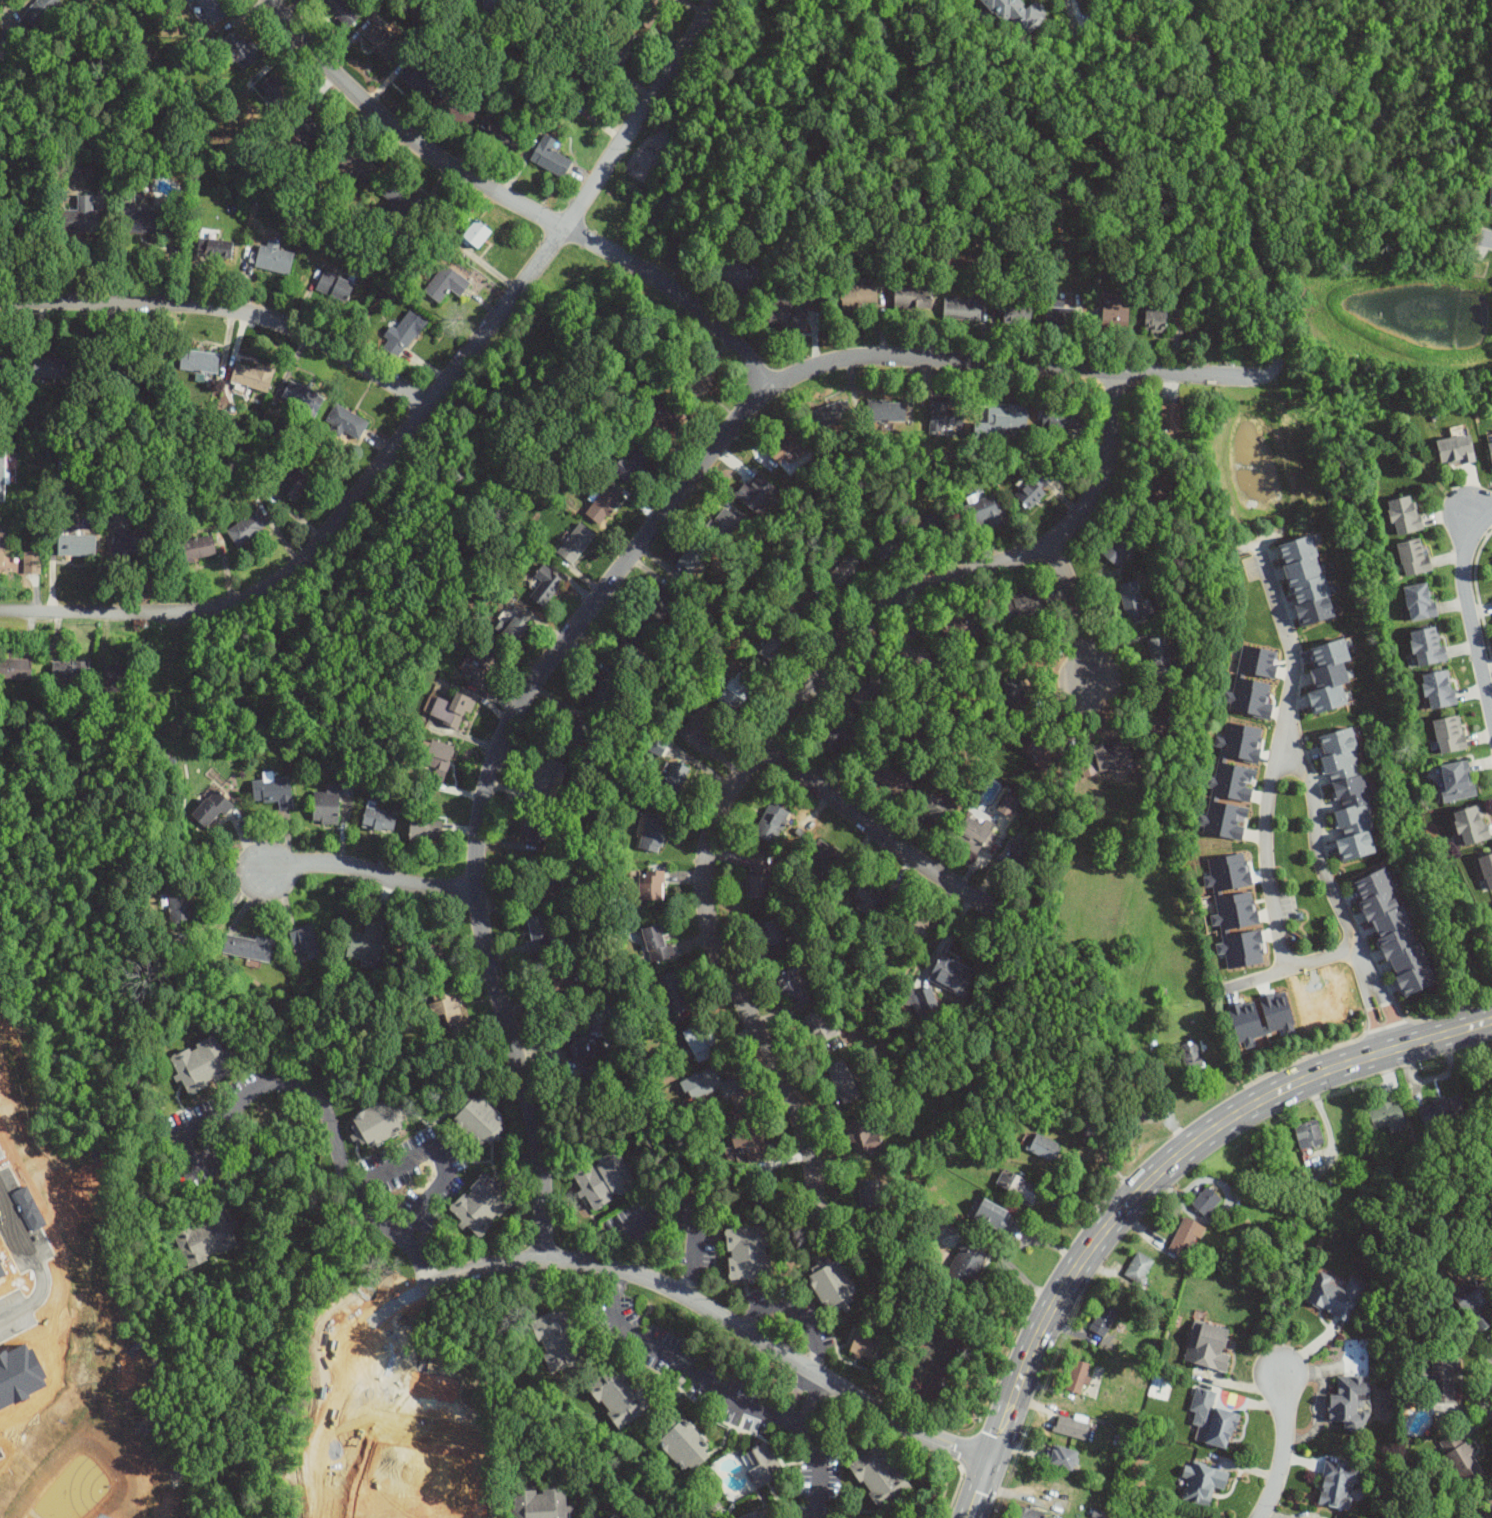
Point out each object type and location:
building: (491, 6)
building: (213, 9)
building: (40, 11)
building: (343, 11)
building: (1014, 11)
building: (649, 12)
building: (381, 41)
building: (240, 50)
building: (621, 50)
building: (418, 81)
building: (584, 83)
road: (1110, 83)
building: (277, 93)
building: (458, 109)
building: (317, 131)
building: (499, 137)
building: (299, 141)
building: (550, 156)
building: (357, 165)
building: (1491, 196)
building: (402, 199)
road: (514, 199)
building: (80, 215)
building: (139, 218)
building: (475, 235)
road: (1486, 238)
building: (213, 247)
building: (274, 258)
building: (738, 275)
building: (446, 284)
building: (335, 286)
building: (856, 297)
building: (911, 298)
road: (224, 309)
building: (962, 309)
building: (790, 315)
building: (1018, 315)
building: (1059, 316)
building: (1114, 319)
building: (1156, 321)
building: (404, 335)
building: (198, 359)
building: (48, 365)
building: (251, 374)
building: (701, 378)
building: (300, 395)
building: (887, 411)
road: (421, 412)
road: (741, 413)
building: (944, 414)
building: (667, 415)
building: (832, 415)
building: (1064, 418)
building: (1168, 418)
building: (345, 419)
building: (1005, 419)
building: (789, 449)
building: (1490, 449)
building: (1455, 451)
park: (472, 457)
building: (628, 463)
building: (1, 473)
building: (290, 481)
building: (1162, 481)
building: (1034, 490)
building: (757, 494)
building: (602, 502)
building: (983, 513)
building: (1404, 516)
building: (722, 522)
building: (246, 526)
building: (933, 531)
building: (575, 541)
building: (75, 543)
building: (1120, 545)
building: (2, 547)
building: (196, 547)
building: (886, 548)
building: (1413, 557)
building: (687, 559)
building: (842, 569)
building: (1306, 580)
building: (544, 583)
building: (659, 599)
building: (1132, 600)
building: (1419, 602)
building: (1027, 604)
road: (1469, 606)
building: (801, 607)
road: (1078, 607)
building: (512, 625)
building: (958, 632)
building: (632, 637)
building: (1428, 647)
building: (770, 652)
building: (484, 654)
building: (1160, 656)
building: (1257, 659)
building: (912, 662)
building: (15, 667)
building: (69, 670)
building: (112, 674)
building: (474, 674)
building: (1329, 677)
building: (603, 690)
building: (733, 690)
building: (1014, 691)
building: (1439, 691)
building: (872, 693)
building: (1250, 696)
building: (448, 707)
building: (1156, 718)
road: (778, 722)
building: (698, 727)
building: (839, 735)
building: (1450, 735)
building: (1039, 751)
building: (1112, 755)
building: (438, 757)
road: (1278, 759)
building: (1088, 767)
building: (544, 775)
building: (674, 776)
building: (1232, 780)
building: (893, 781)
building: (1457, 782)
building: (274, 789)
building: (1349, 796)
building: (330, 801)
building: (1007, 803)
building: (212, 808)
building: (936, 810)
building: (380, 819)
building: (1224, 819)
building: (773, 822)
building: (1471, 827)
building: (428, 828)
building: (652, 831)
road: (880, 833)
building: (976, 837)
building: (1018, 848)
building: (831, 861)
building: (1487, 871)
road: (370, 874)
building: (759, 878)
building: (650, 884)
building: (546, 887)
building: (872, 896)
road: (1335, 896)
building: (180, 903)
building: (916, 925)
building: (1238, 928)
building: (536, 932)
building: (1394, 932)
building: (773, 937)
building: (915, 938)
building: (367, 940)
building: (306, 941)
building: (655, 943)
building: (248, 946)
road: (1288, 970)
building: (951, 974)
building: (561, 979)
building: (792, 989)
building: (673, 991)
building: (922, 1000)
building: (448, 1007)
building: (1246, 1023)
building: (819, 1027)
building: (698, 1040)
building: (582, 1044)
building: (1192, 1056)
building: (201, 1063)
building: (840, 1077)
building: (708, 1083)
road: (299, 1084)
building: (1442, 1111)
building: (1386, 1115)
building: (479, 1118)
building: (378, 1122)
building: (859, 1135)
building: (1309, 1135)
building: (750, 1144)
building: (1045, 1148)
road: (442, 1153)
building: (604, 1178)
road: (1148, 1182)
building: (1018, 1186)
building: (872, 1194)
building: (1206, 1202)
building: (481, 1203)
road: (672, 1212)
building: (995, 1216)
building: (1185, 1237)
building: (205, 1238)
building: (748, 1251)
building: (966, 1262)
road: (34, 1268)
building: (1139, 1269)
road: (1018, 1272)
building: (832, 1286)
road: (666, 1287)
building: (1335, 1295)
building: (1476, 1302)
road: (795, 1311)
building: (1105, 1318)
building: (556, 1338)
building: (862, 1346)
building: (1209, 1348)
building: (1078, 1377)
building: (1444, 1381)
building: (617, 1395)
road: (723, 1396)
road: (805, 1397)
building: (1350, 1404)
road: (1468, 1407)
building: (1212, 1418)
building: (1072, 1427)
road: (324, 1442)
building: (684, 1444)
road: (1283, 1449)
building: (1063, 1458)
building: (1461, 1459)
building: (762, 1465)
building: (880, 1476)
building: (1203, 1483)
building: (1339, 1485)
building: (541, 1503)
building: (1488, 1510)
building: (1028, 1513)
building: (757, 1514)
building: (611, 1516)
building: (1307, 1517)

